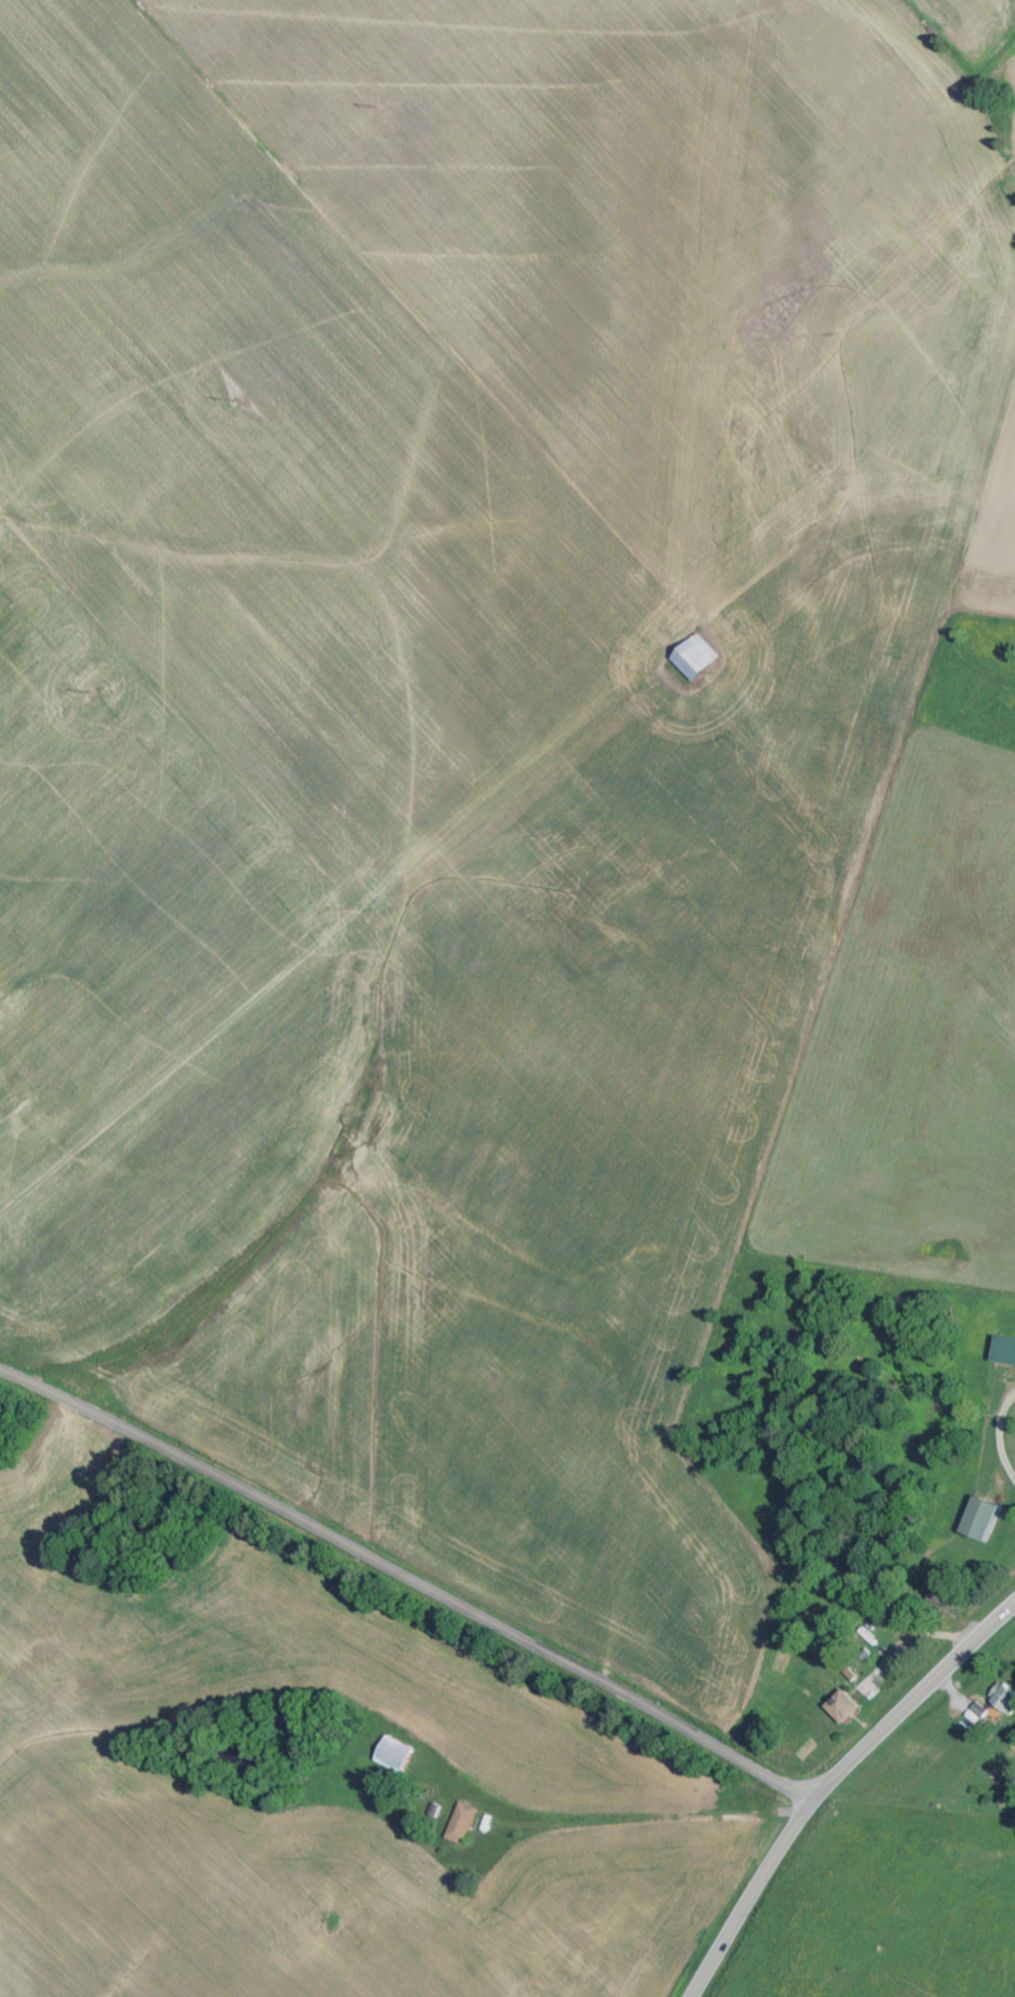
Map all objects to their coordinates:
building: (697, 657)
building: (1004, 1351)
building: (981, 1519)
road: (412, 1581)
building: (1007, 1700)
building: (844, 1707)
building: (395, 1754)
road: (833, 1786)
building: (465, 1824)

